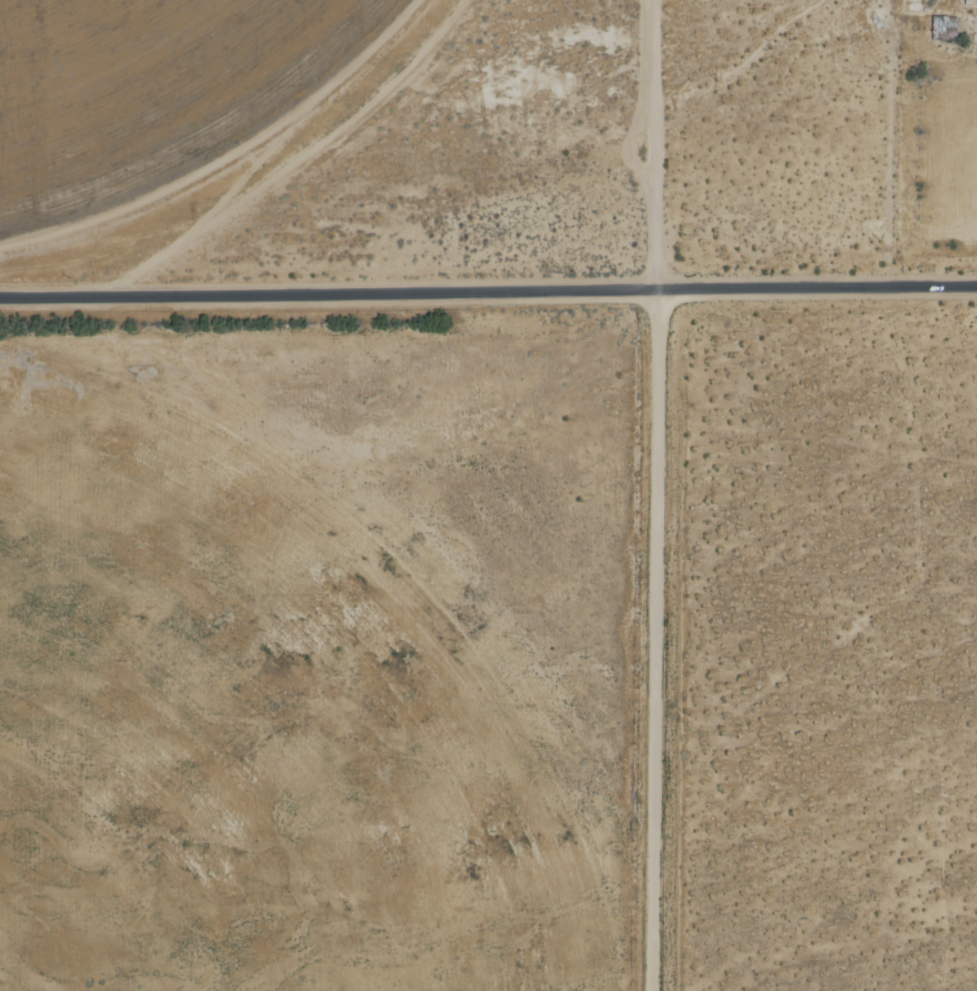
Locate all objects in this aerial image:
crop: (101, 53)
road: (654, 144)
road: (488, 290)
road: (650, 640)

